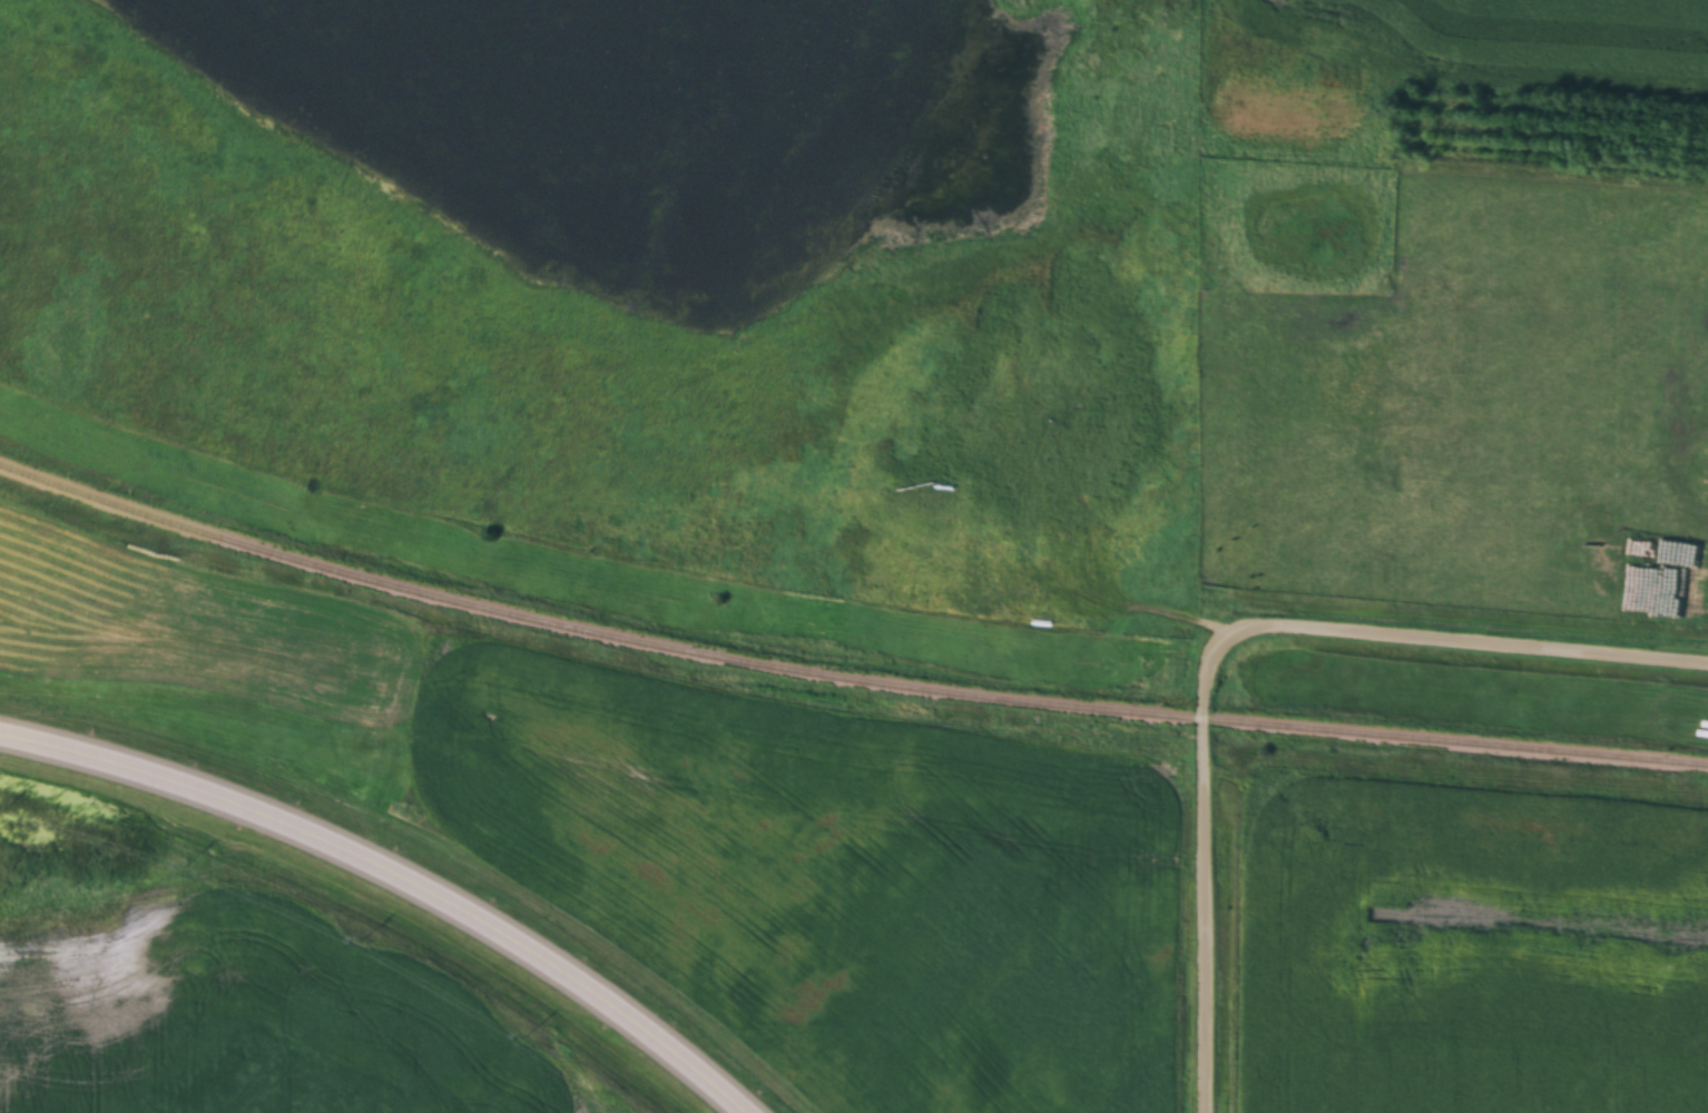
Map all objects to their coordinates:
road: (1420, 637)
railway: (842, 679)
road: (391, 880)
road: (1204, 916)

